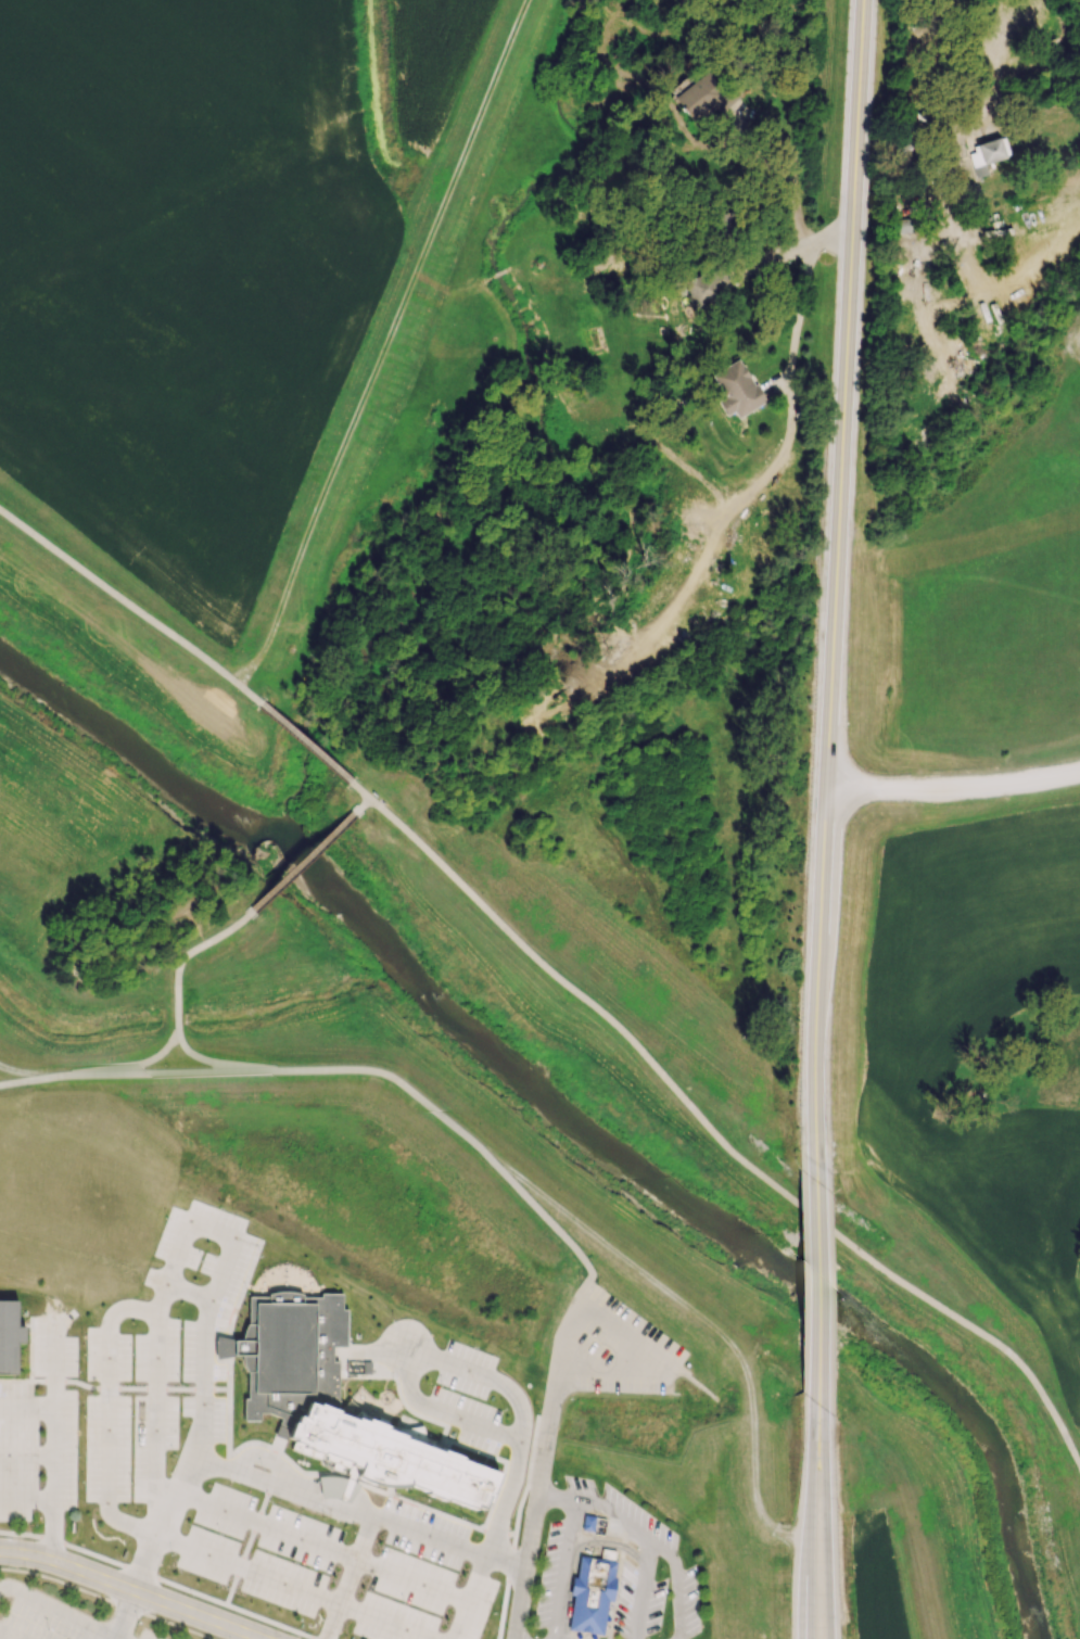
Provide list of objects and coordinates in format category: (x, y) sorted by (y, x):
road: (1027, 91)
building: (702, 97)
road: (1028, 128)
building: (983, 155)
building: (900, 226)
road: (805, 250)
road: (851, 254)
road: (797, 255)
road: (919, 288)
building: (704, 292)
road: (387, 345)
building: (736, 389)
crop: (996, 590)
road: (134, 603)
road: (643, 651)
road: (309, 744)
river: (140, 755)
road: (952, 787)
road: (363, 790)
road: (360, 806)
road: (822, 840)
road: (301, 863)
road: (186, 955)
crop: (978, 1031)
road: (224, 1064)
road: (123, 1068)
road: (27, 1073)
road: (168, 1076)
road: (27, 1081)
road: (470, 1140)
road: (721, 1140)
river: (712, 1215)
road: (169, 1267)
road: (819, 1293)
building: (11, 1337)
road: (412, 1350)
parking lot: (623, 1350)
building: (289, 1354)
road: (644, 1359)
road: (53, 1367)
road: (478, 1370)
parking lot: (41, 1426)
road: (27, 1453)
road: (54, 1457)
building: (386, 1457)
road: (223, 1463)
parking lot: (240, 1464)
road: (814, 1464)
road: (542, 1466)
road: (518, 1496)
road: (557, 1497)
road: (27, 1500)
road: (910, 1507)
road: (828, 1525)
road: (393, 1537)
road: (579, 1547)
road: (660, 1548)
road: (648, 1554)
parking lot: (657, 1557)
road: (562, 1570)
road: (806, 1577)
road: (170, 1579)
road: (130, 1590)
building: (594, 1593)
road: (104, 1600)
road: (640, 1603)
road: (59, 1610)
road: (129, 1616)
parking lot: (54, 1618)
road: (7, 1635)

